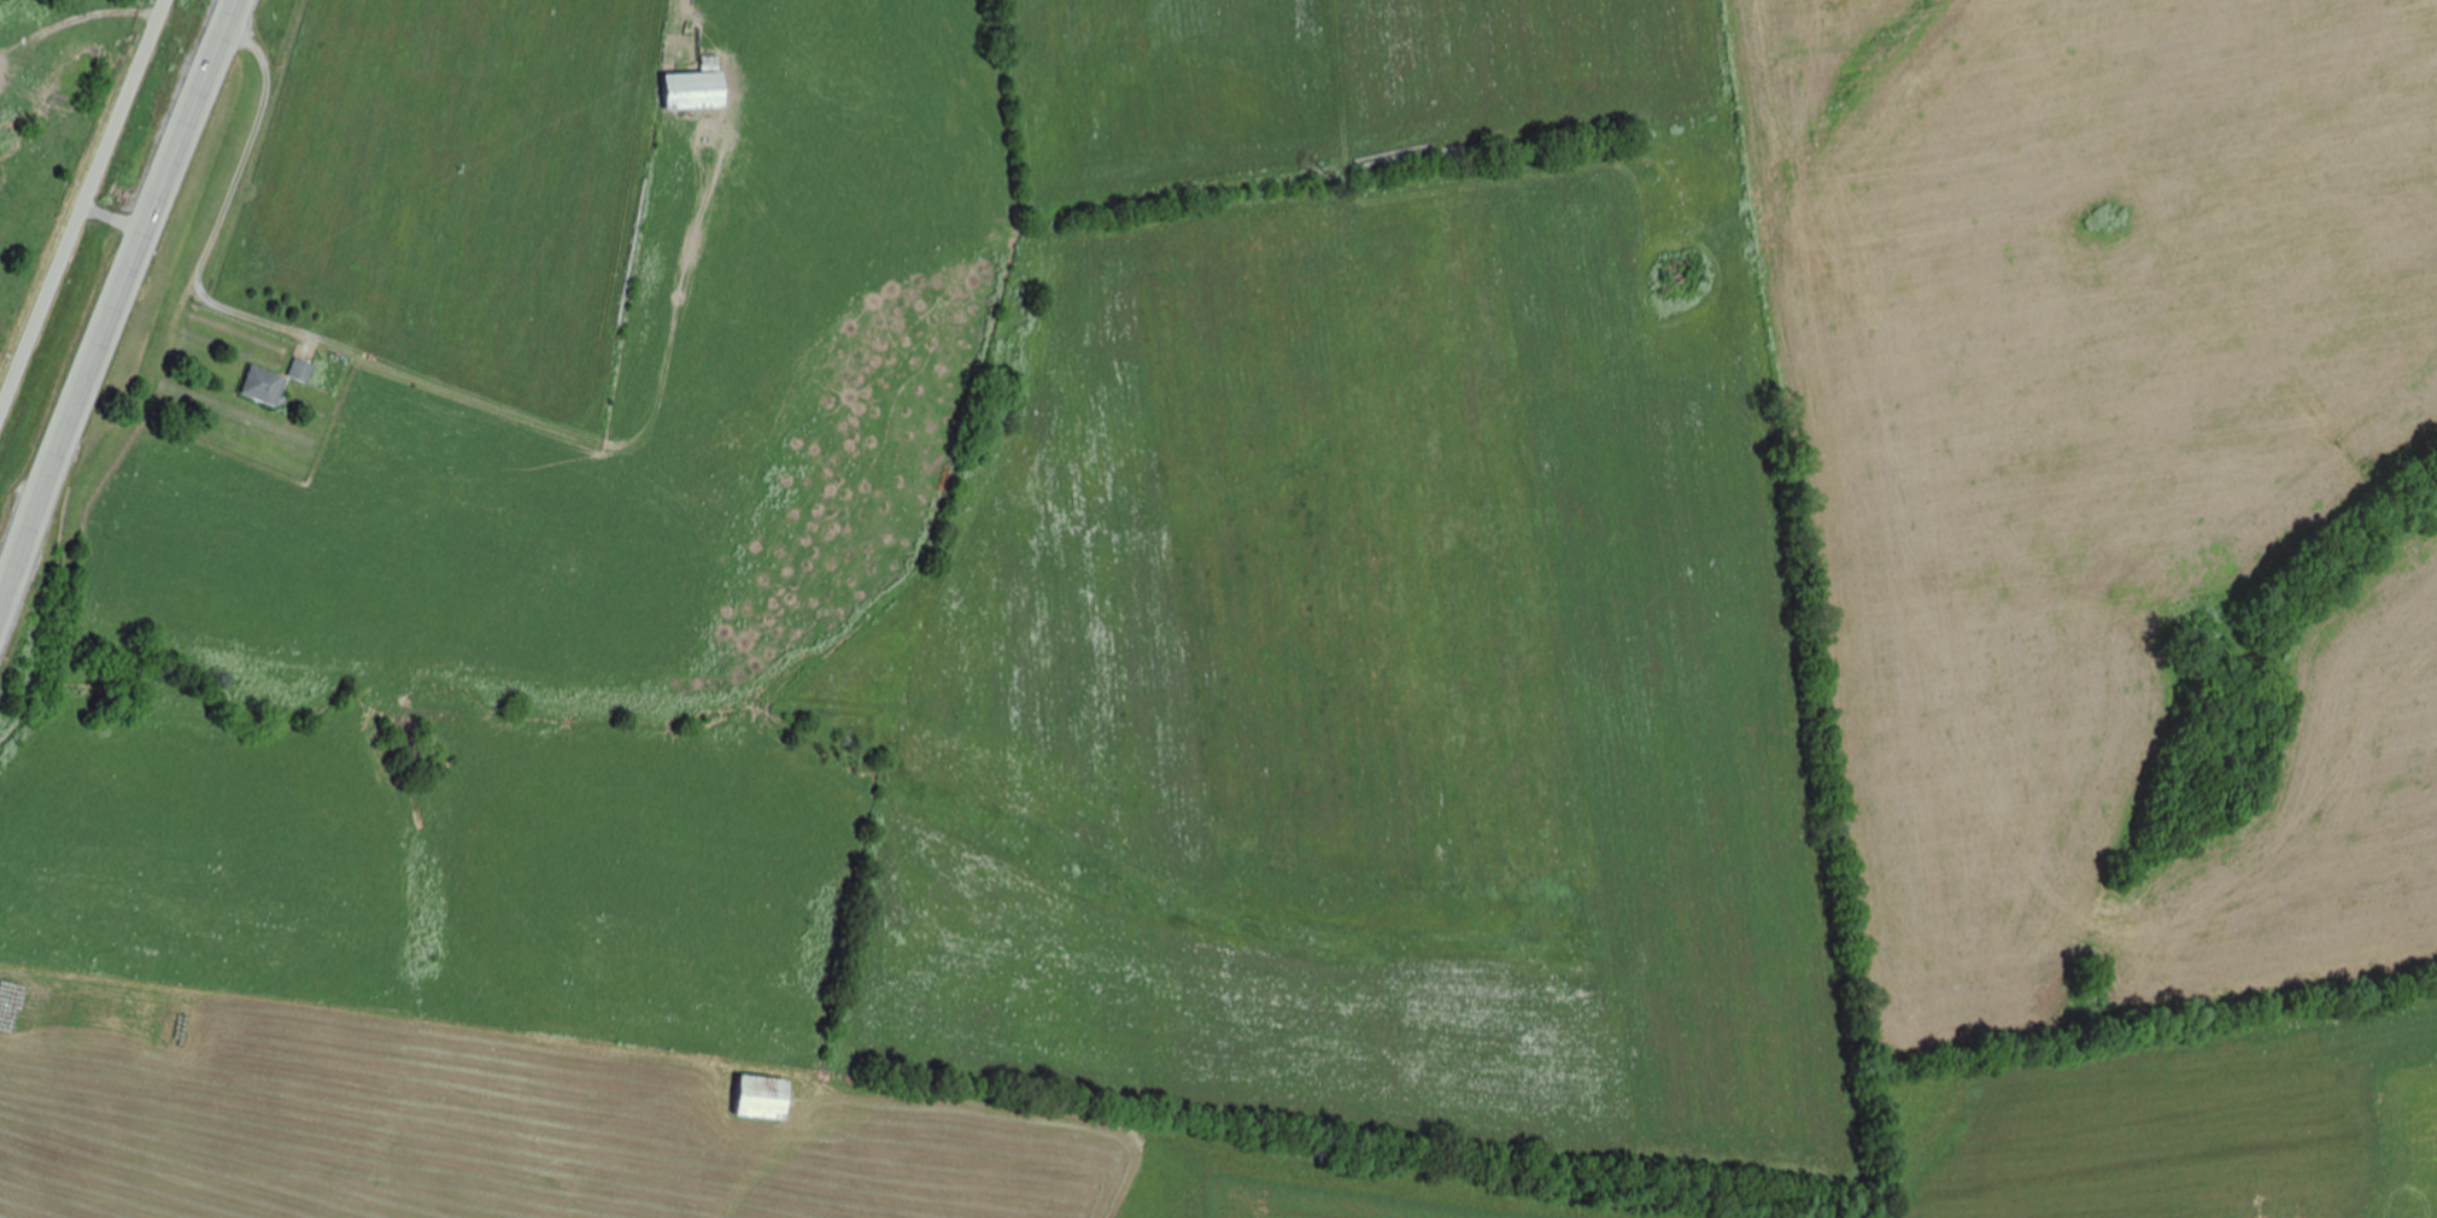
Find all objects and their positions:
building: (701, 89)
road: (82, 209)
road: (117, 299)
building: (303, 371)
building: (266, 387)
building: (768, 1096)

